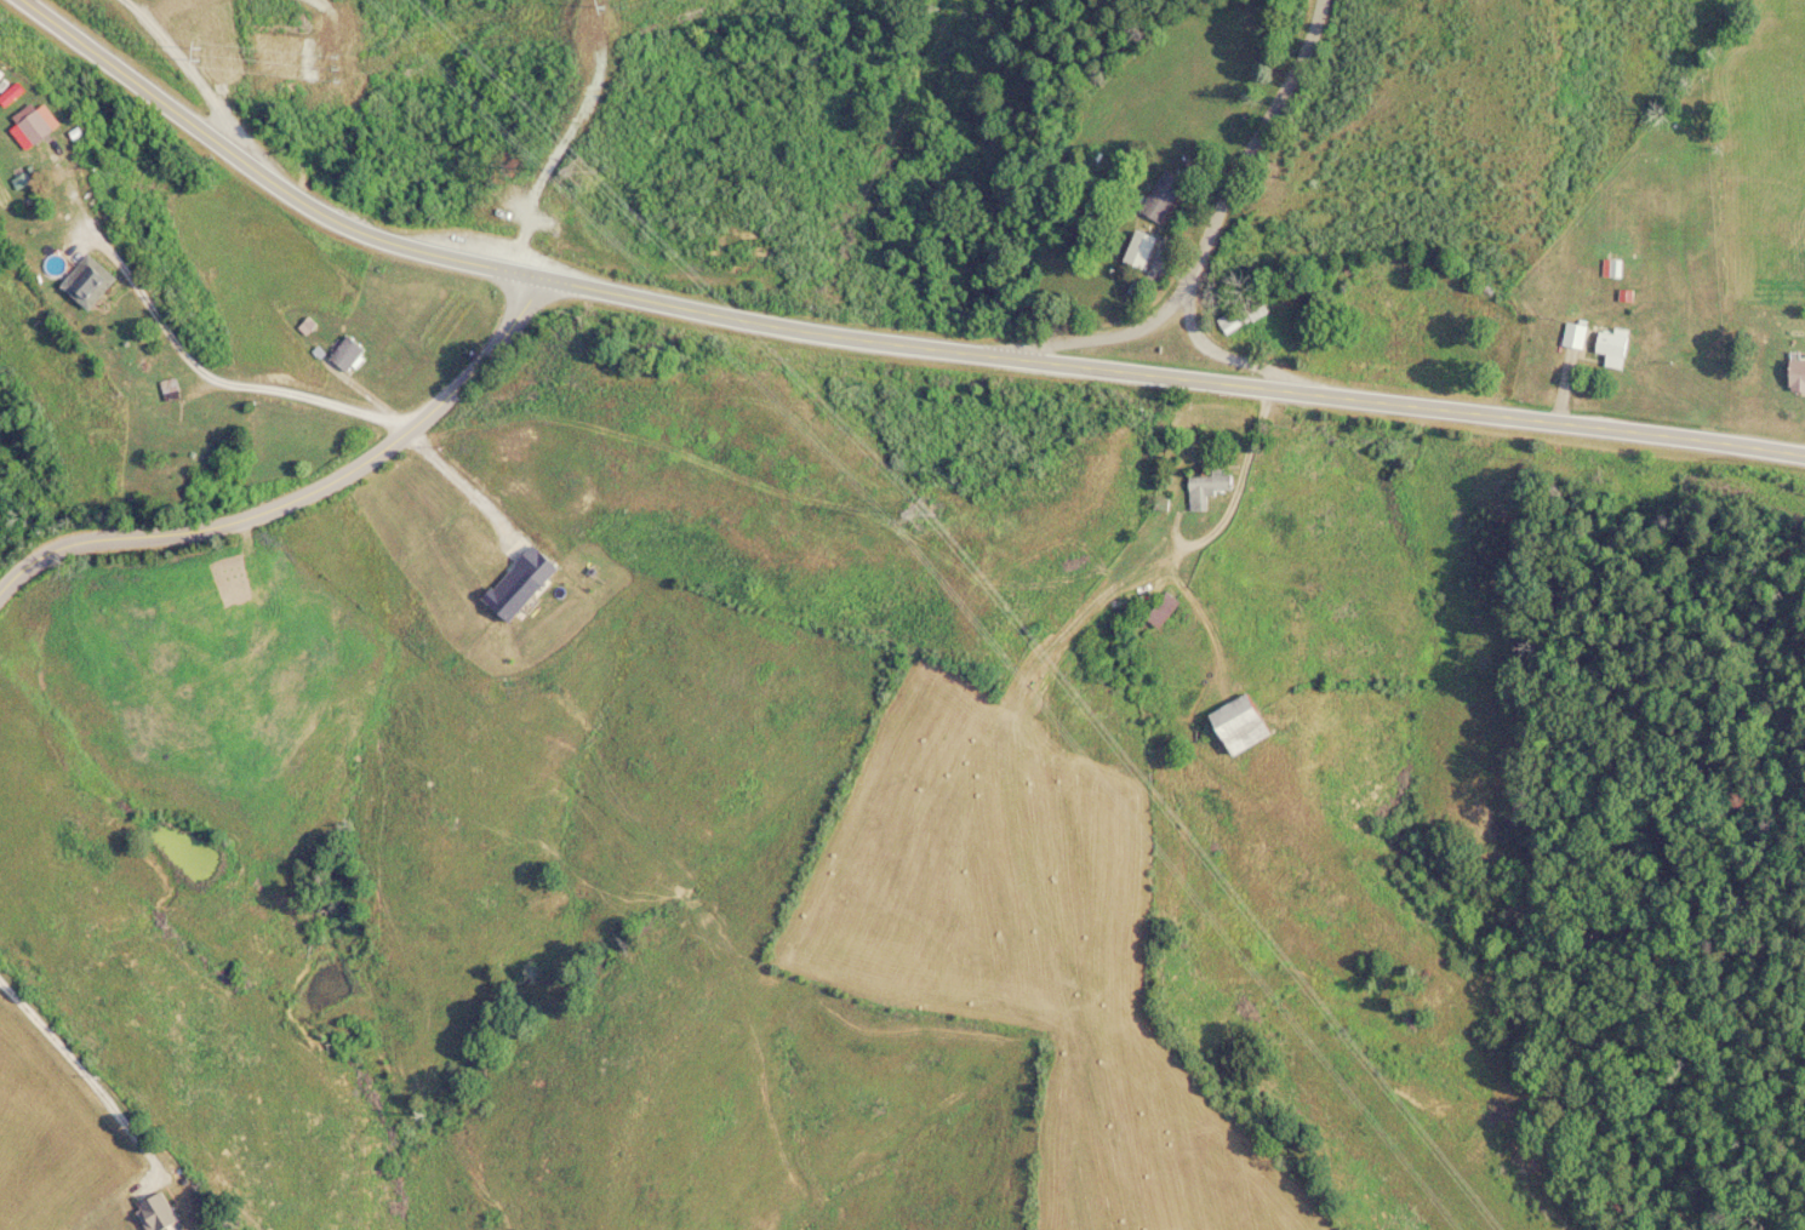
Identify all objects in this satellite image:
road: (187, 64)
building: (34, 127)
building: (1161, 198)
road: (1223, 216)
building: (1138, 251)
building: (87, 282)
building: (1230, 322)
building: (1575, 337)
road: (1102, 338)
road: (879, 339)
building: (1611, 343)
building: (345, 355)
building: (1797, 376)
road: (297, 484)
road: (1238, 484)
building: (1206, 490)
building: (1161, 504)
building: (1159, 612)
building: (1238, 726)

